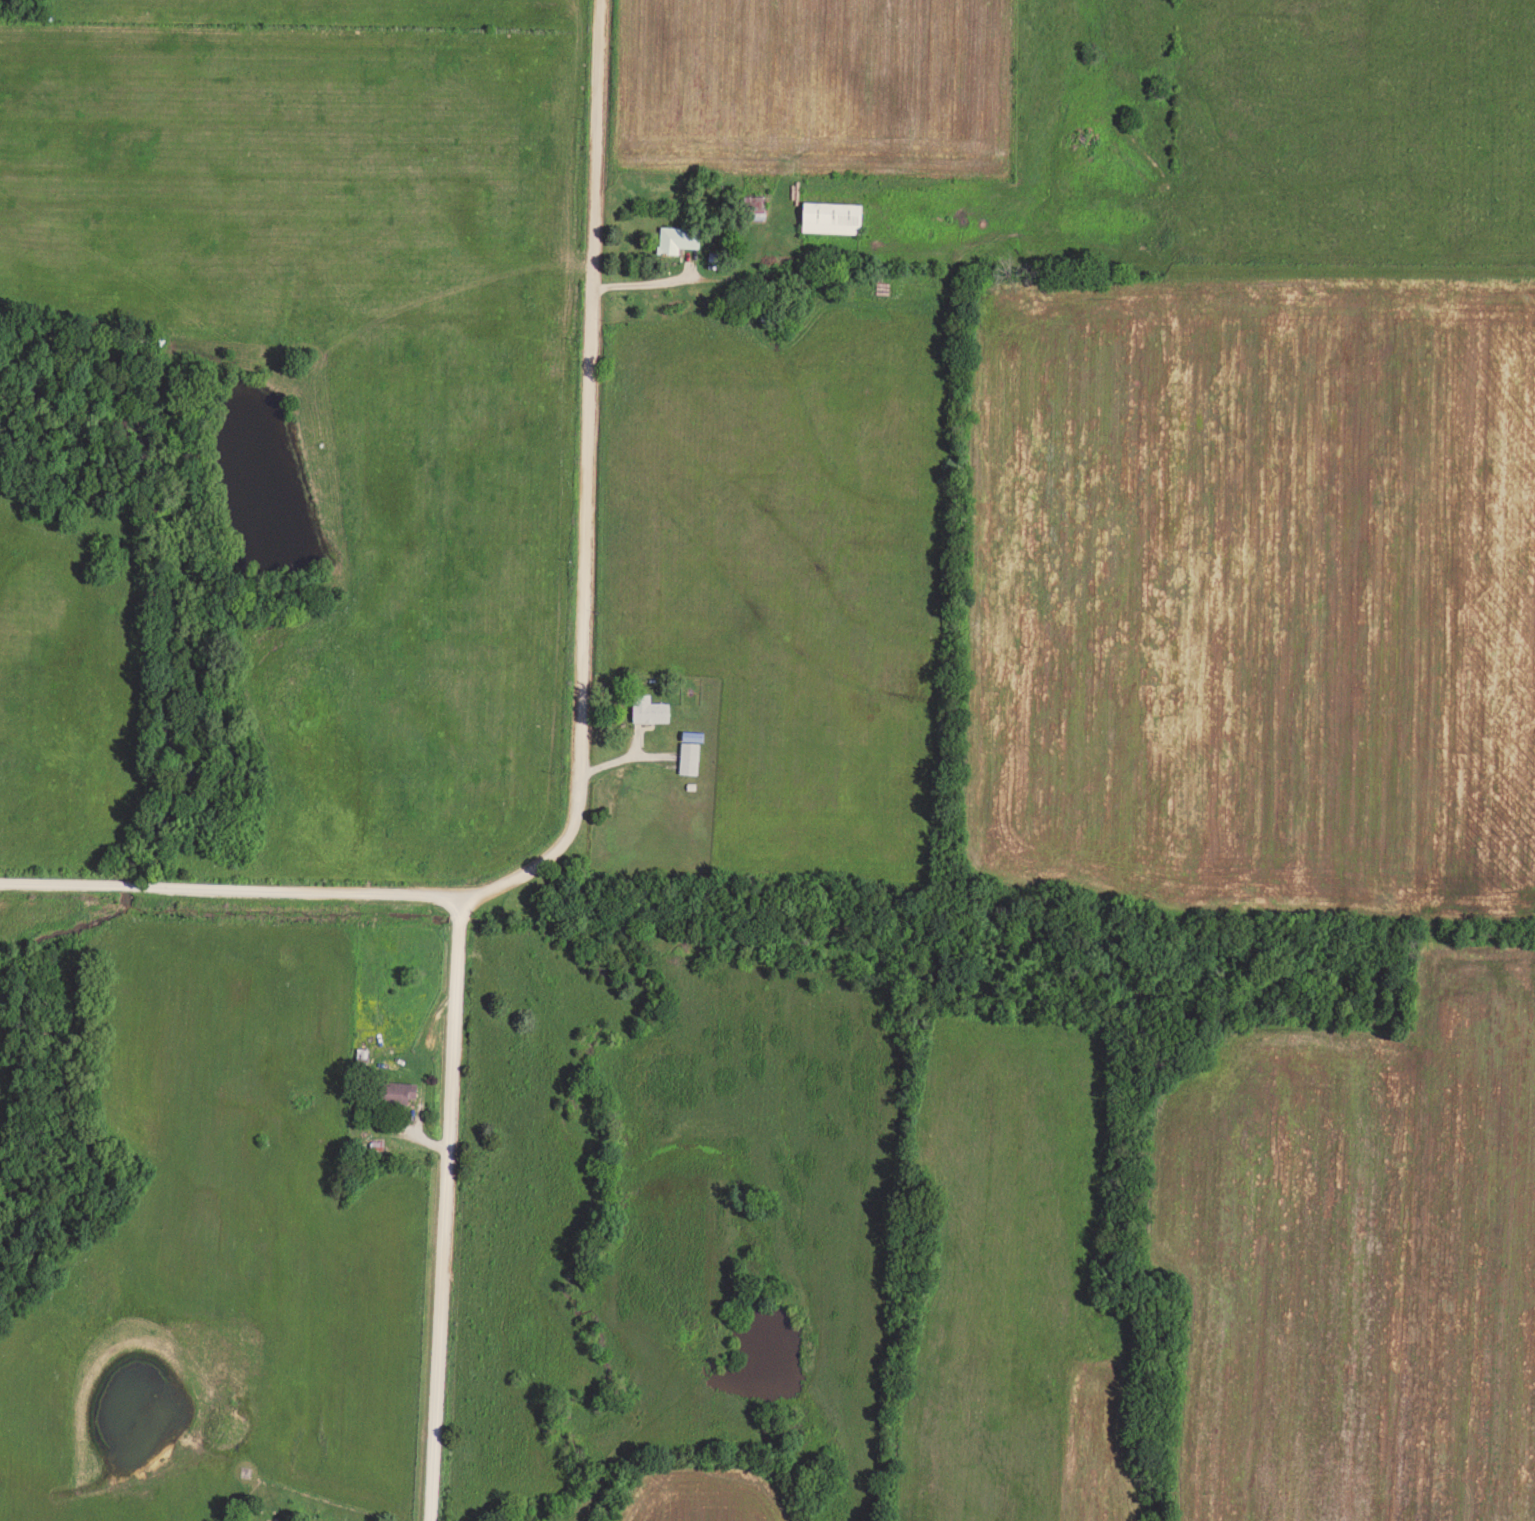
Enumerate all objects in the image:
building: (835, 216)
building: (680, 237)
road: (699, 276)
road: (589, 480)
building: (651, 707)
road: (628, 755)
building: (691, 756)
road: (231, 888)
building: (399, 1092)
road: (449, 1209)

